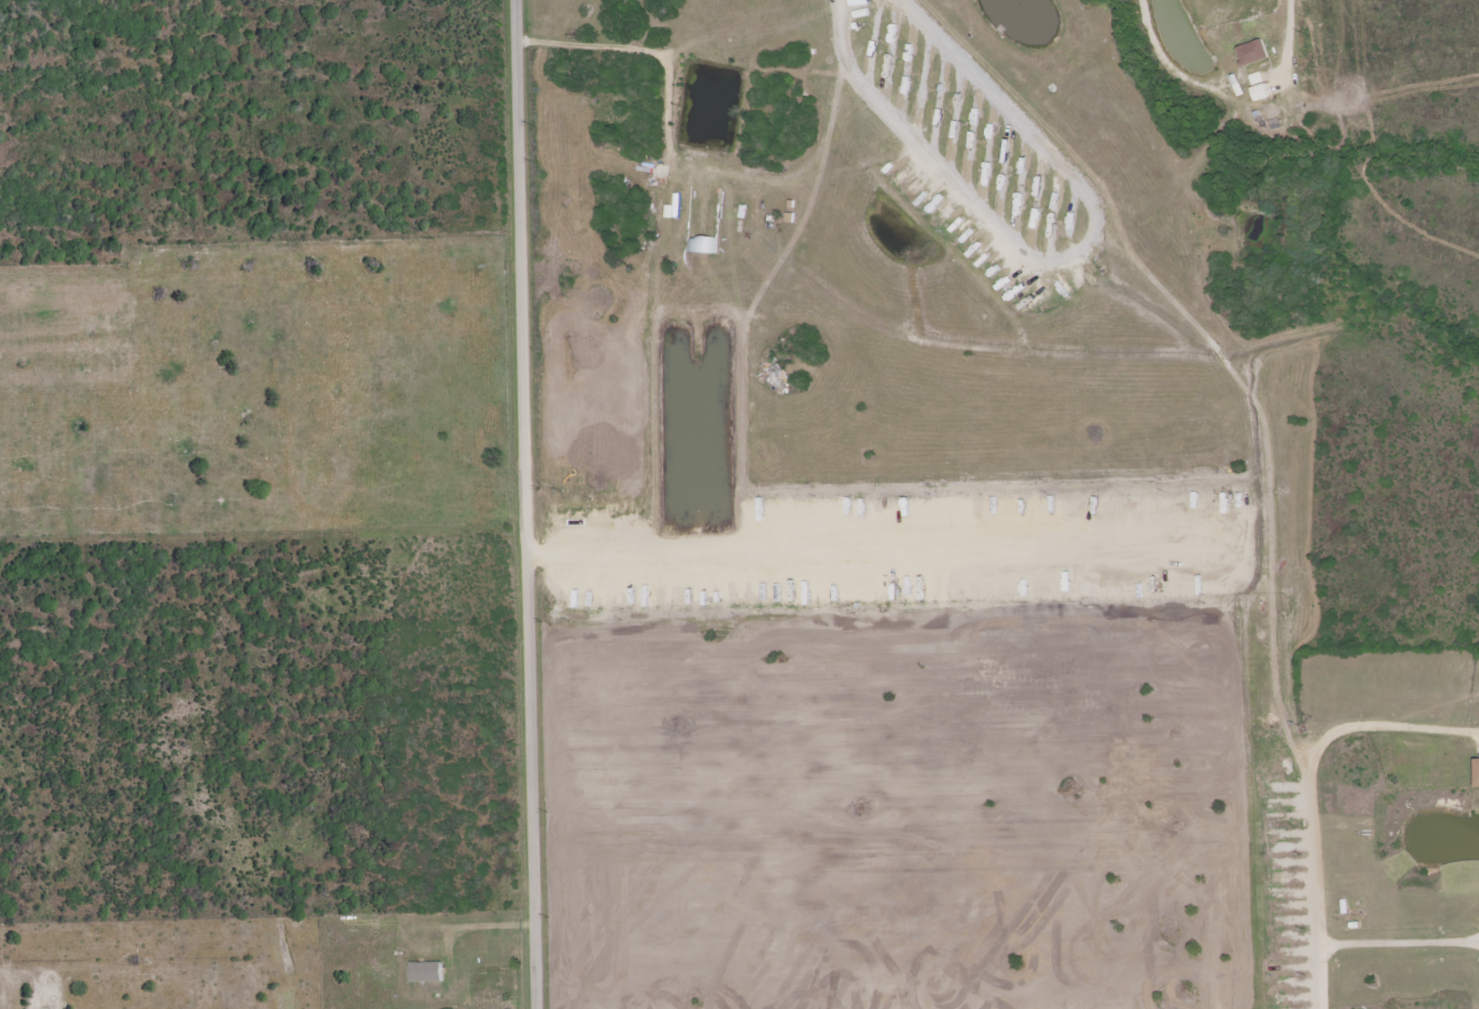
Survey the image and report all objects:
building: (859, 3)
building: (1253, 53)
building: (1257, 79)
building: (1260, 93)
building: (702, 246)
road: (528, 504)
building: (1478, 771)
road: (1313, 794)
road: (1398, 944)
building: (427, 973)

